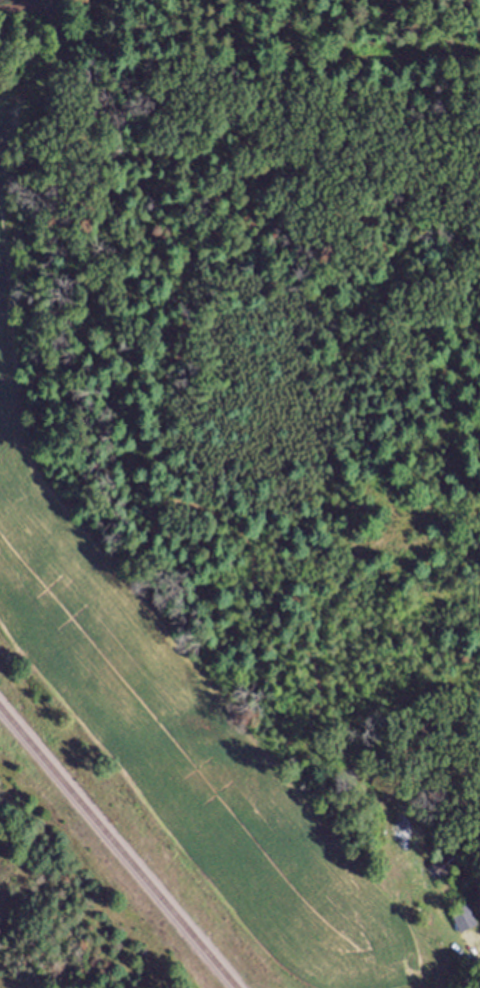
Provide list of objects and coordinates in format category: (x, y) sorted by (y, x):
railway: (115, 850)
building: (444, 873)
building: (463, 927)

